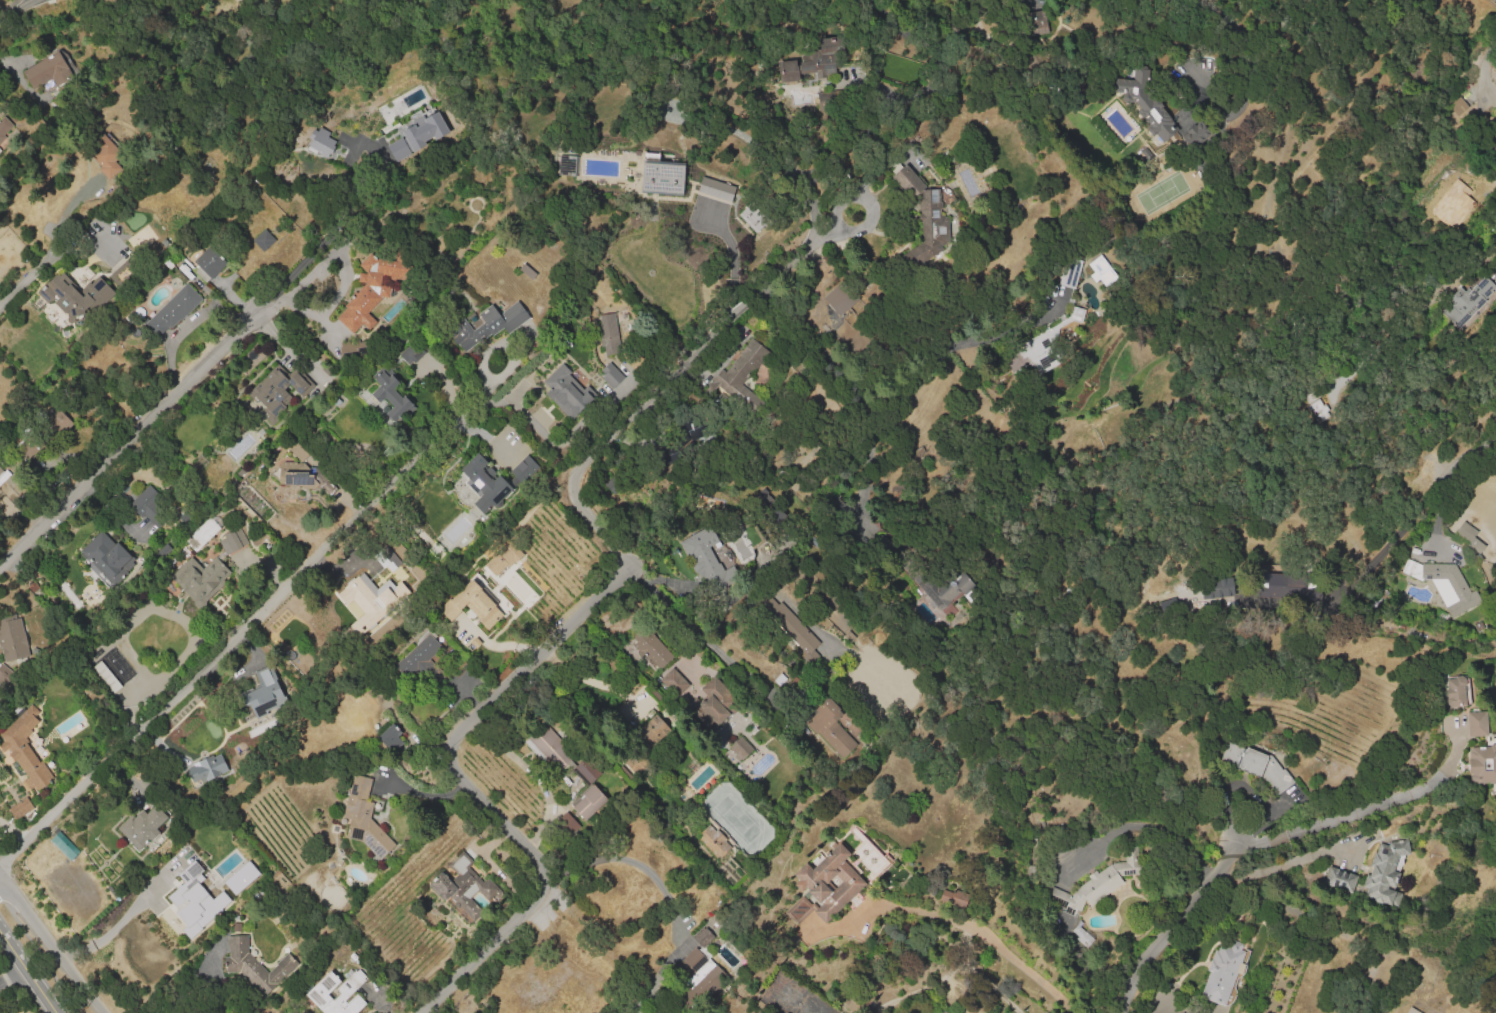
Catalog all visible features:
road: (15, 14)
building: (1036, 22)
road: (1214, 35)
building: (812, 63)
building: (46, 71)
building: (1129, 89)
building: (426, 105)
building: (1457, 108)
road: (890, 111)
building: (1156, 118)
building: (3, 127)
building: (1196, 132)
building: (417, 133)
building: (319, 142)
building: (104, 156)
building: (566, 164)
building: (662, 176)
building: (911, 179)
building: (715, 188)
road: (868, 203)
building: (1451, 209)
building: (752, 216)
building: (935, 218)
road: (828, 235)
road: (324, 237)
building: (264, 241)
road: (732, 260)
building: (209, 264)
road: (344, 270)
road: (34, 271)
building: (1102, 271)
building: (527, 272)
building: (1069, 272)
building: (122, 274)
road: (1463, 275)
building: (374, 289)
building: (842, 298)
building: (86, 299)
building: (1466, 301)
building: (174, 309)
road: (257, 316)
building: (490, 324)
building: (610, 333)
building: (1046, 341)
building: (351, 347)
building: (410, 354)
building: (744, 374)
building: (611, 375)
building: (277, 391)
building: (565, 393)
road: (876, 393)
building: (391, 395)
road: (653, 396)
building: (1317, 410)
building: (55, 421)
road: (1487, 443)
building: (25, 449)
road: (115, 449)
building: (300, 453)
building: (664, 455)
building: (3, 476)
building: (295, 479)
building: (326, 486)
building: (477, 501)
building: (433, 514)
building: (142, 518)
road: (1373, 532)
building: (201, 535)
building: (1472, 538)
building: (232, 542)
building: (699, 551)
building: (108, 558)
building: (387, 558)
building: (502, 558)
building: (200, 580)
building: (364, 580)
building: (1271, 584)
building: (1216, 587)
building: (1455, 590)
building: (953, 591)
building: (475, 613)
building: (313, 622)
building: (789, 625)
road: (237, 632)
building: (12, 641)
road: (712, 644)
building: (647, 647)
building: (421, 661)
building: (3, 674)
building: (106, 679)
building: (673, 682)
building: (1459, 693)
building: (263, 696)
building: (712, 703)
building: (832, 725)
building: (1480, 726)
building: (653, 728)
building: (389, 737)
building: (739, 747)
building: (548, 748)
building: (24, 750)
building: (225, 764)
building: (1484, 764)
building: (206, 768)
building: (588, 771)
road: (533, 774)
building: (1269, 779)
road: (468, 787)
building: (589, 803)
building: (20, 807)
road: (1350, 815)
building: (362, 820)
building: (567, 823)
road: (1159, 827)
building: (141, 829)
building: (712, 841)
building: (51, 854)
building: (1131, 864)
road: (1278, 866)
building: (1387, 874)
building: (240, 877)
building: (1342, 881)
building: (812, 884)
building: (463, 888)
building: (1090, 890)
road: (666, 894)
building: (952, 897)
building: (193, 900)
building: (622, 909)
road: (1178, 925)
road: (112, 929)
building: (1083, 936)
building: (703, 938)
road: (988, 940)
road: (52, 944)
building: (585, 962)
building: (692, 963)
building: (255, 966)
road: (29, 969)
road: (12, 972)
building: (1225, 974)
building: (535, 988)
building: (336, 993)
building: (1411, 1011)

